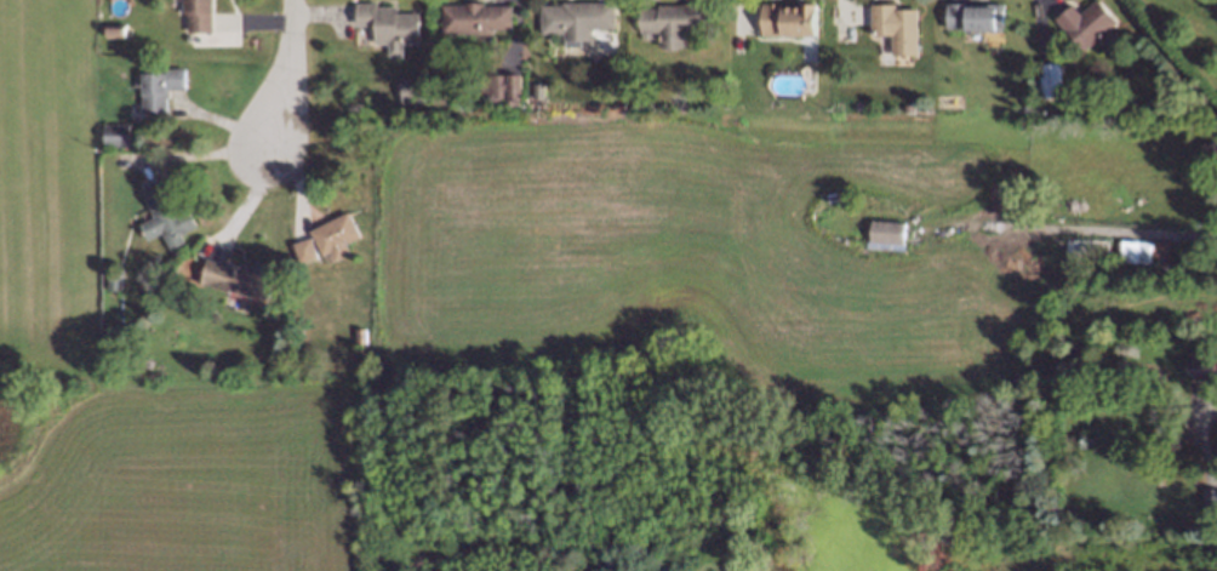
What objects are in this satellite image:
building: (672, 11)
building: (193, 12)
building: (783, 13)
building: (468, 15)
building: (381, 21)
building: (571, 21)
building: (892, 21)
building: (972, 21)
building: (109, 24)
building: (1082, 30)
road: (291, 70)
building: (1049, 75)
building: (154, 85)
building: (491, 90)
building: (509, 91)
building: (407, 92)
building: (533, 92)
building: (904, 108)
building: (109, 129)
road: (253, 200)
building: (156, 213)
building: (884, 234)
building: (330, 240)
building: (1051, 241)
building: (1133, 251)
building: (299, 253)
building: (227, 273)
building: (105, 286)
building: (354, 331)
building: (1194, 365)
building: (1076, 434)
road: (1196, 434)
building: (1216, 438)
building: (1206, 493)

